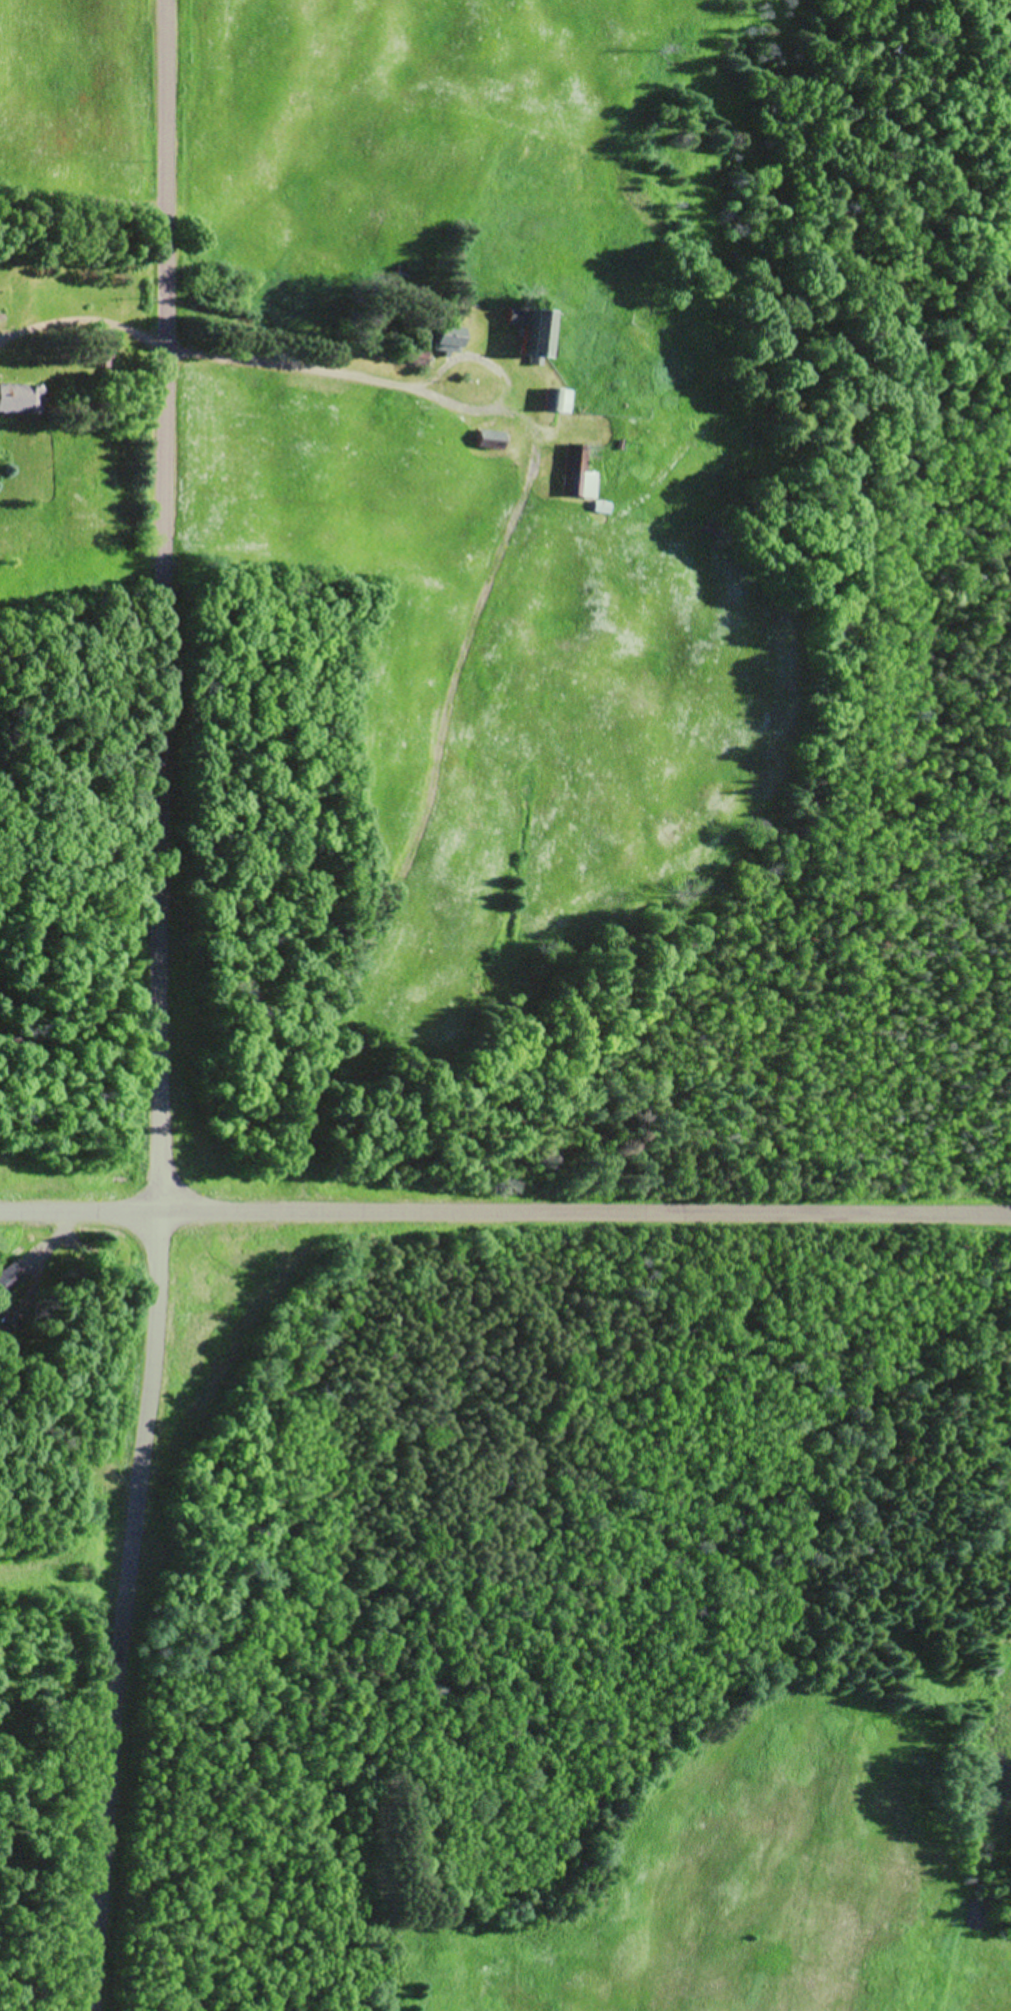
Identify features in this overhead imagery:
building: (533, 334)
building: (448, 342)
building: (102, 359)
building: (417, 360)
building: (20, 402)
building: (559, 404)
building: (490, 443)
building: (578, 477)
road: (482, 637)
road: (157, 1006)
road: (81, 1209)
road: (586, 1209)
building: (9, 1281)
building: (3, 1329)
road: (62, 1593)

